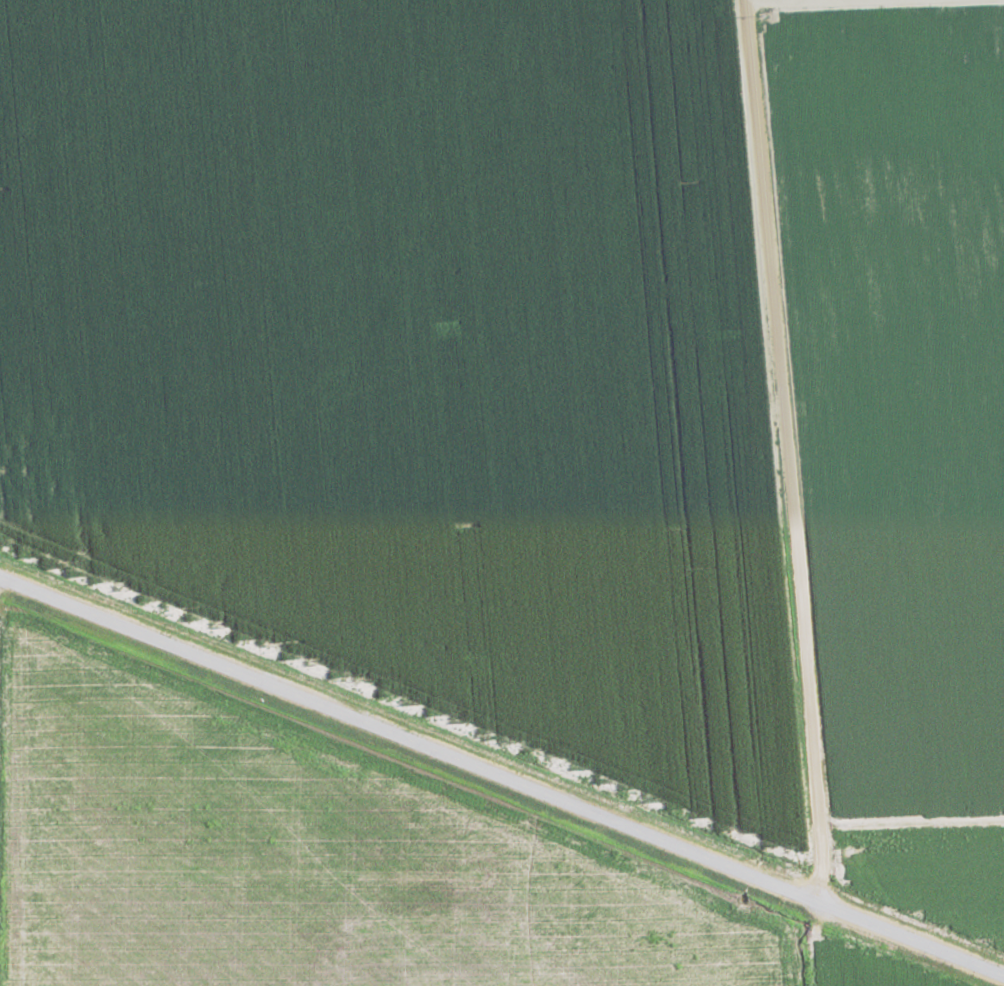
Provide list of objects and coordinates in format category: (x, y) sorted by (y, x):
road: (816, 1)
road: (778, 450)
road: (502, 776)

